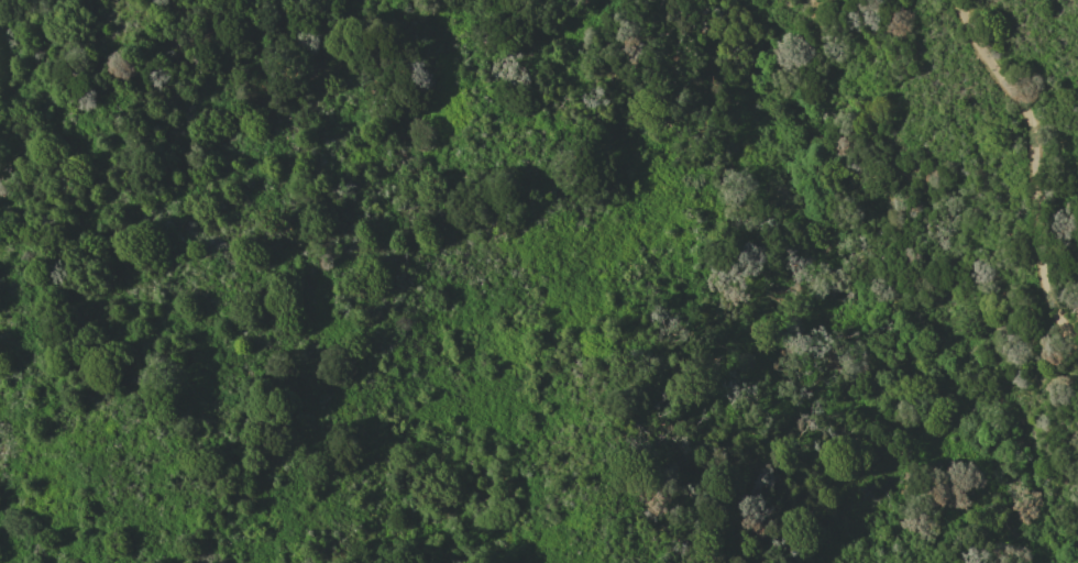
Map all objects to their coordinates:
road: (1035, 167)
road: (776, 298)

